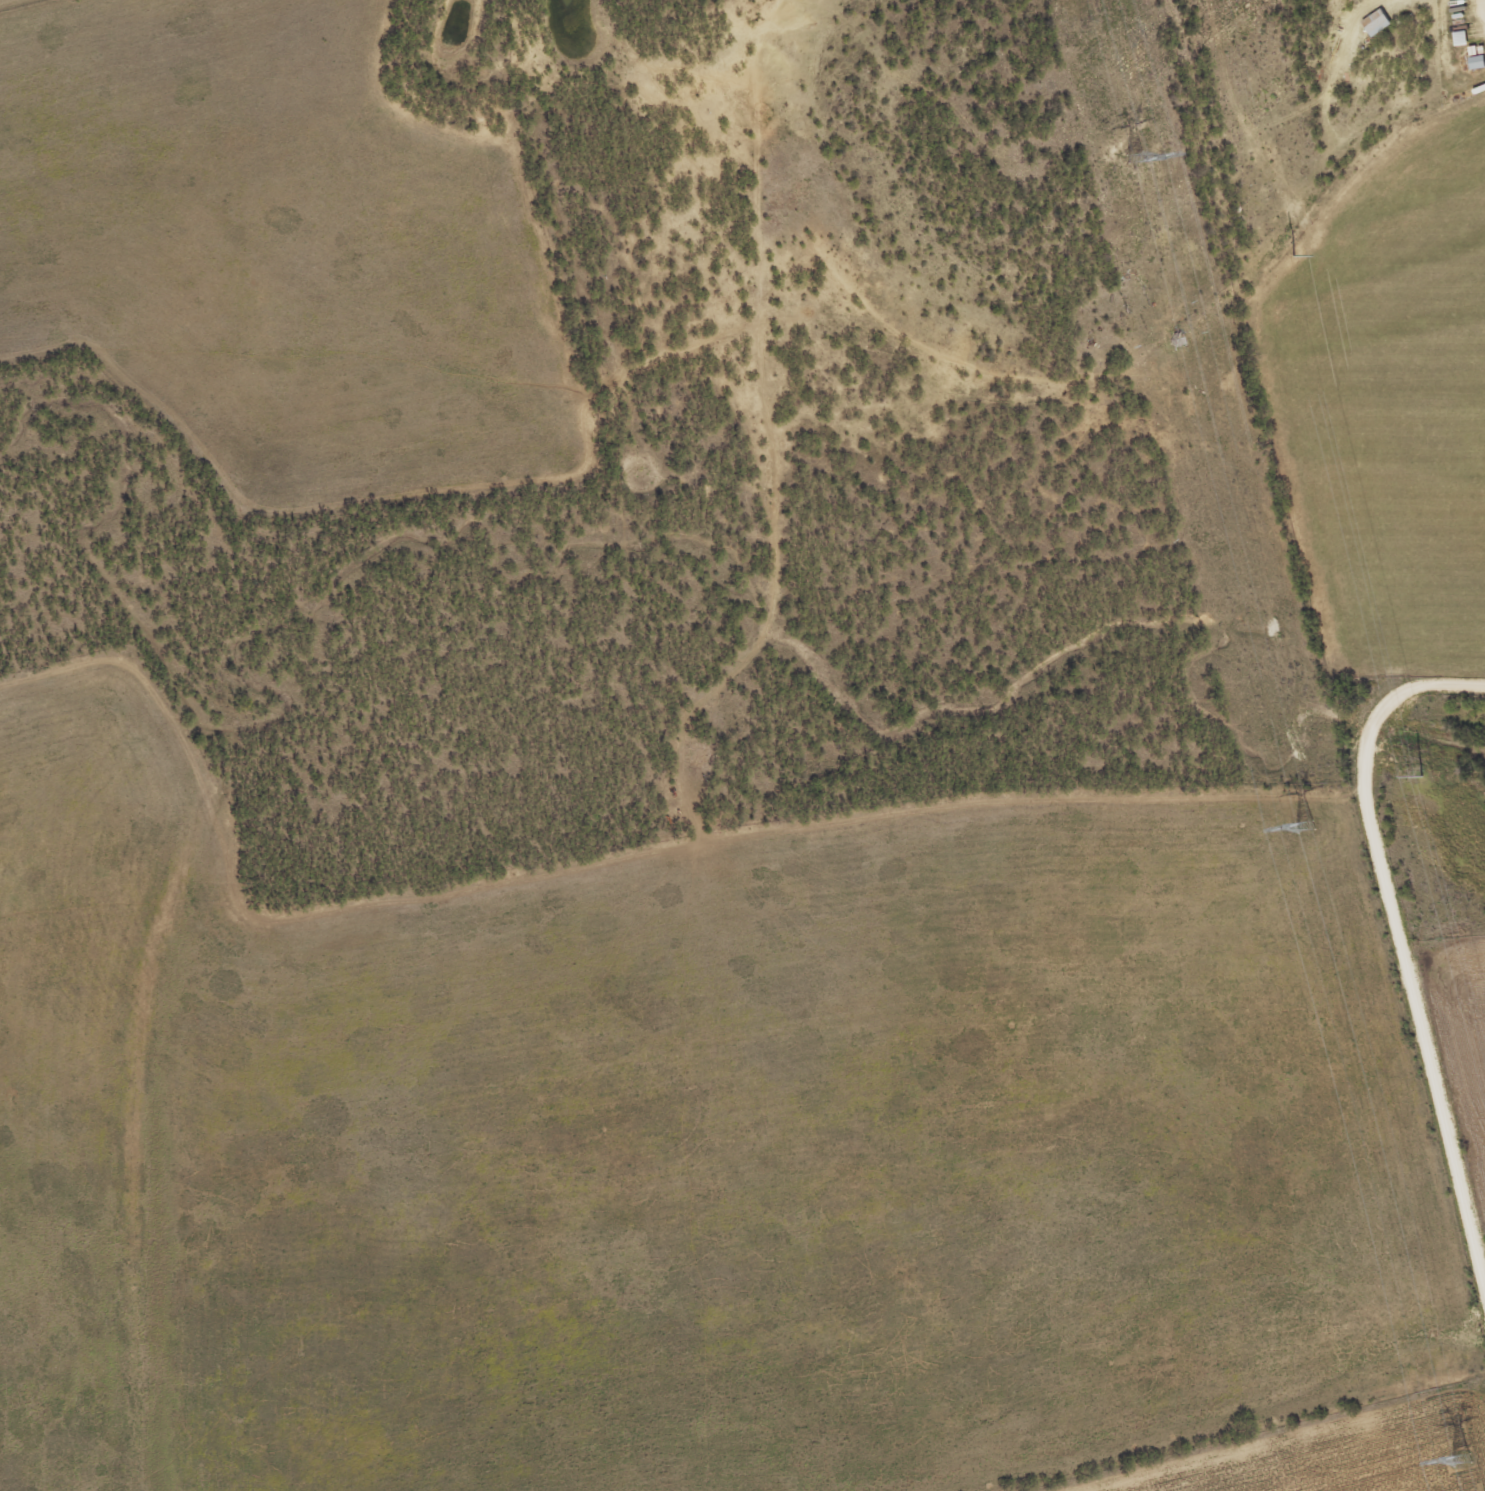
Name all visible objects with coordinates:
building: (1380, 24)
building: (1479, 64)
power tower: (1135, 156)
power tower: (1296, 256)
power tower: (1424, 777)
power tower: (1304, 826)
road: (1395, 951)
power tower: (1461, 1460)

